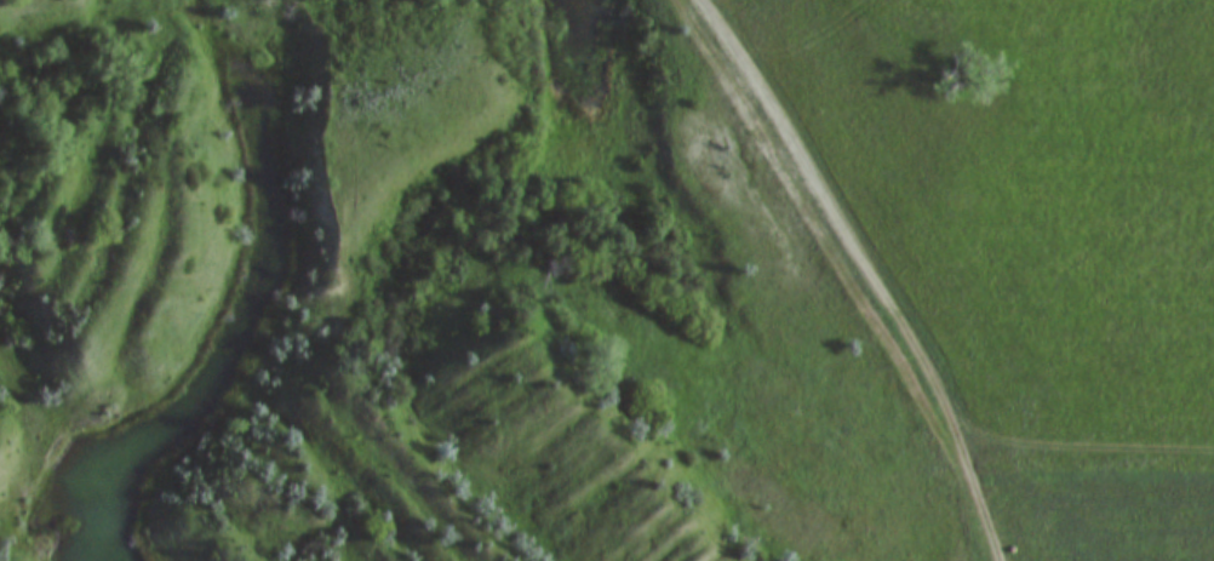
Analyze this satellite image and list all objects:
road: (853, 275)
quarry: (452, 296)

